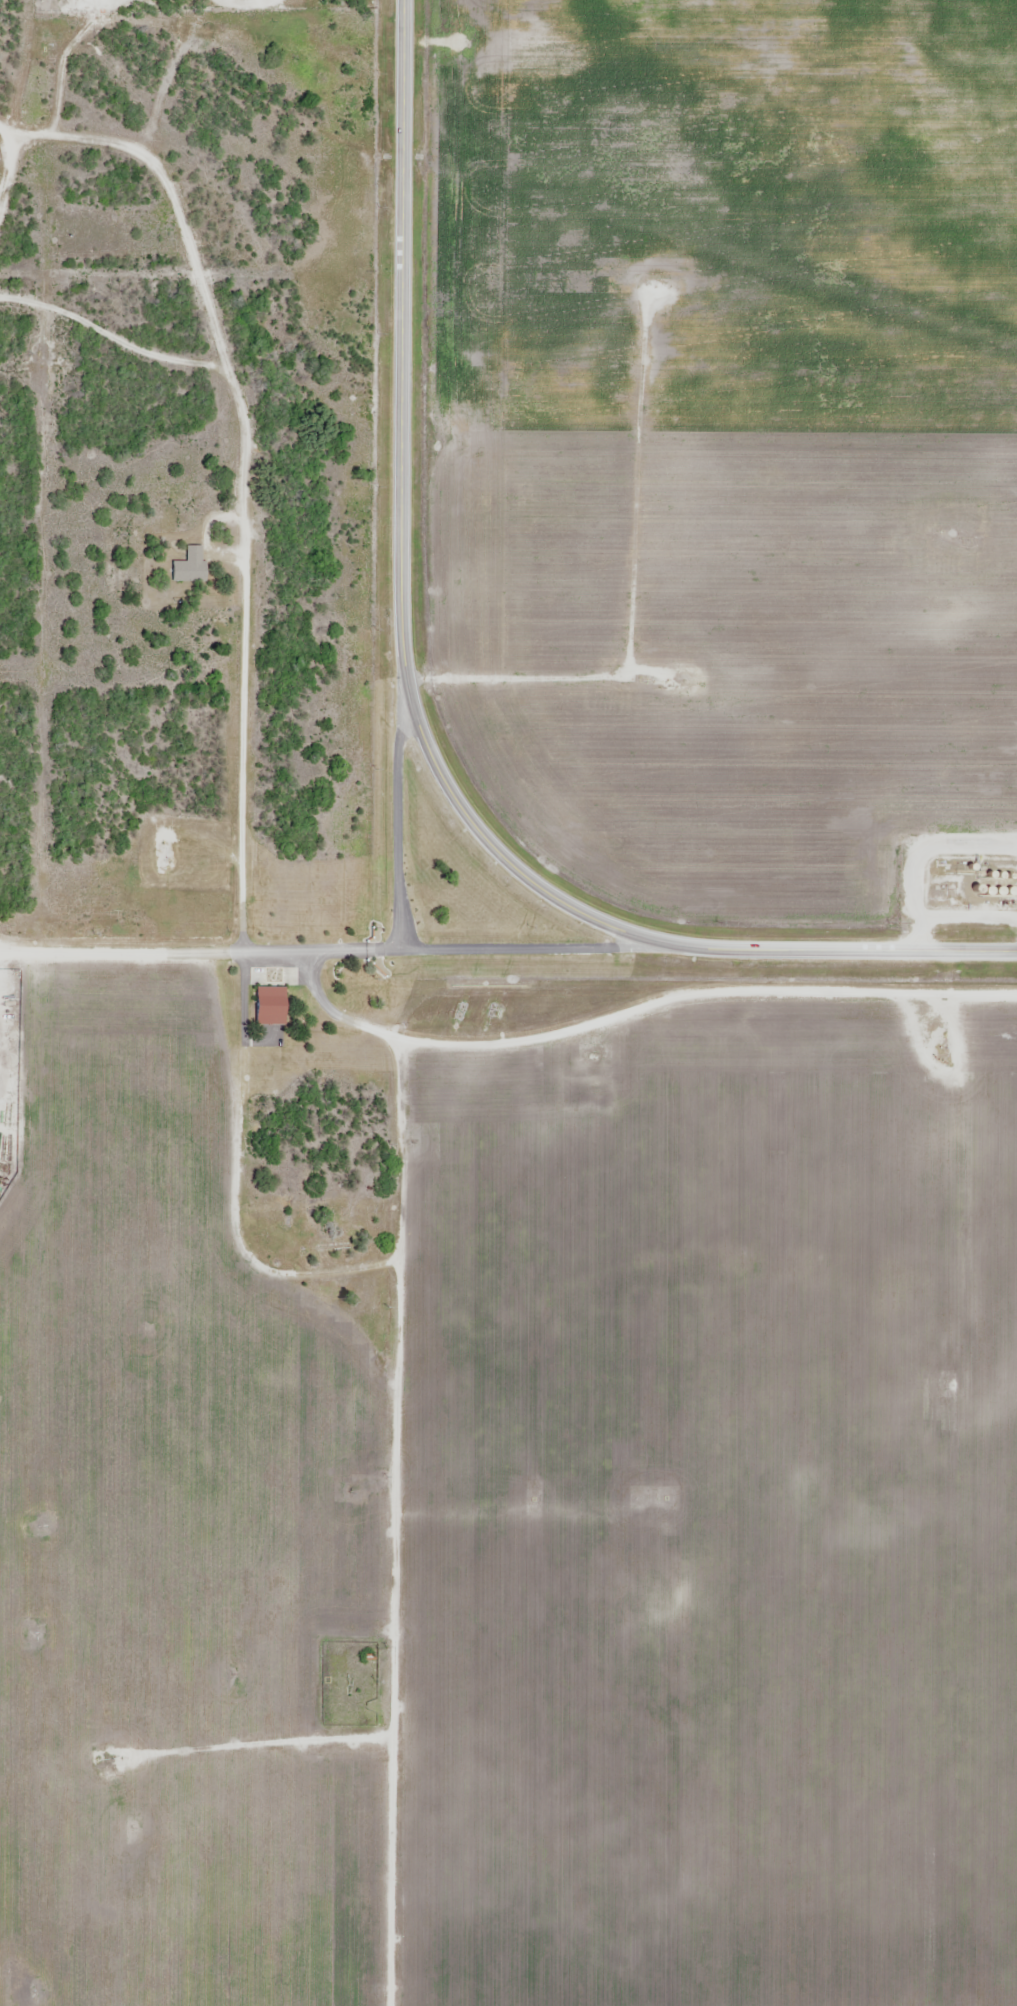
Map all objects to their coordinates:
building: (189, 565)
road: (415, 710)
road: (392, 823)
road: (434, 953)
road: (112, 955)
building: (270, 1006)
building: (331, 1247)

